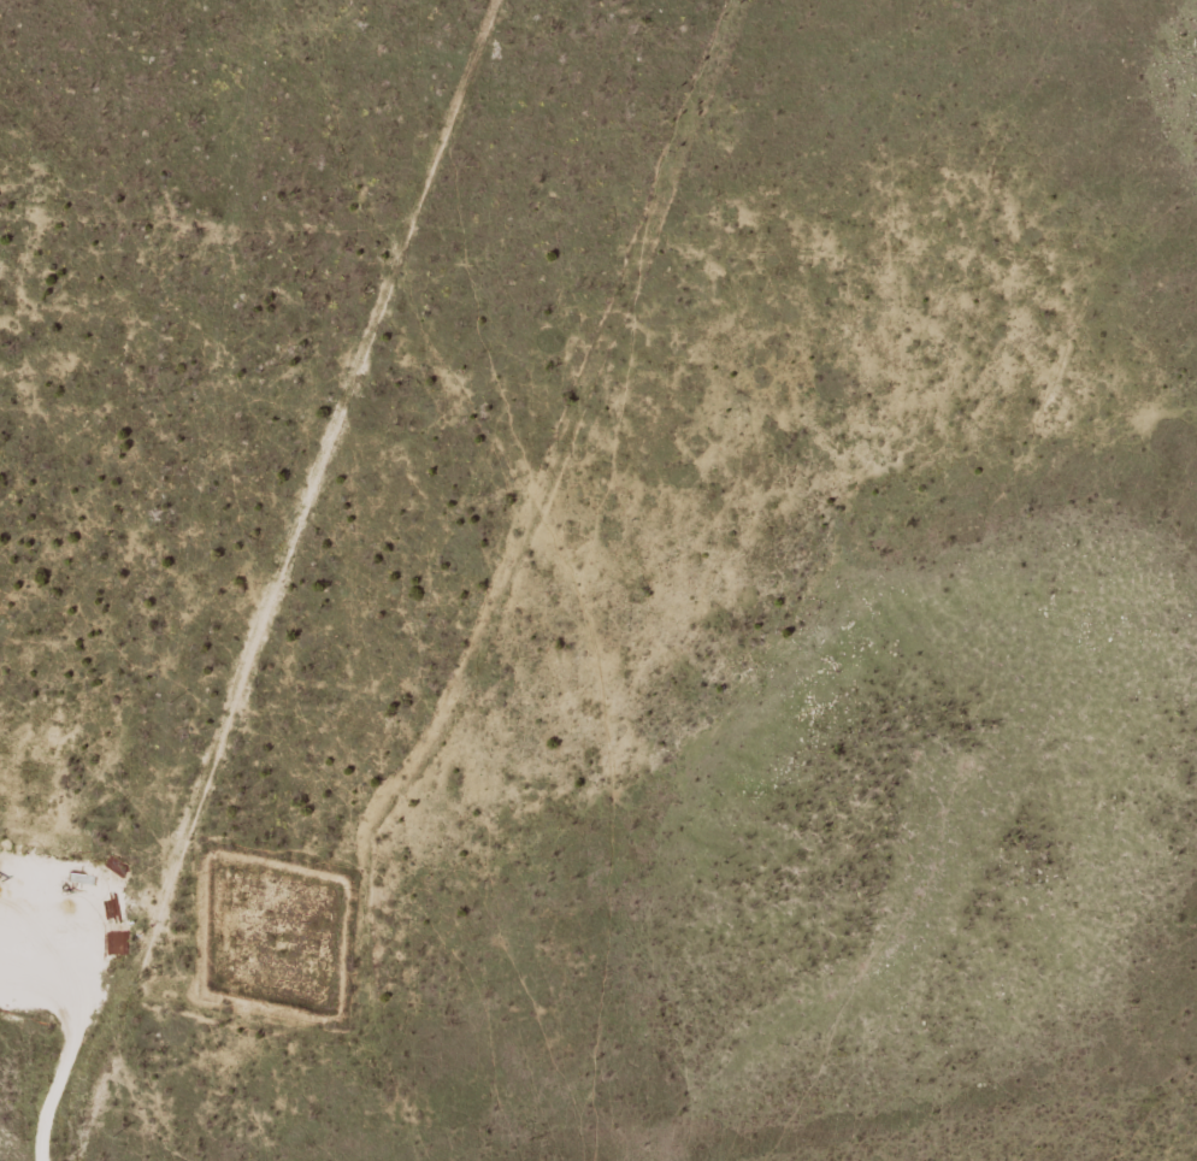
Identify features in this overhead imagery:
building: (82, 879)
road: (29, 1047)

